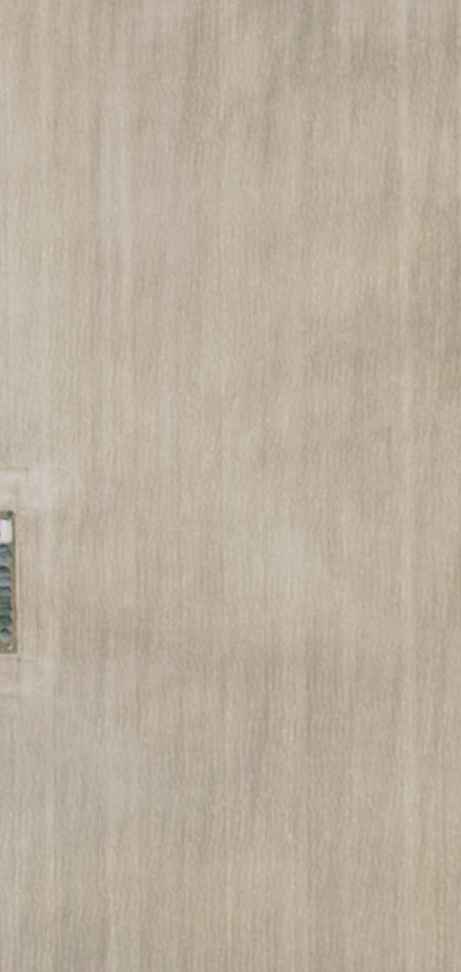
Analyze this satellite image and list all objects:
building: (1, 528)

